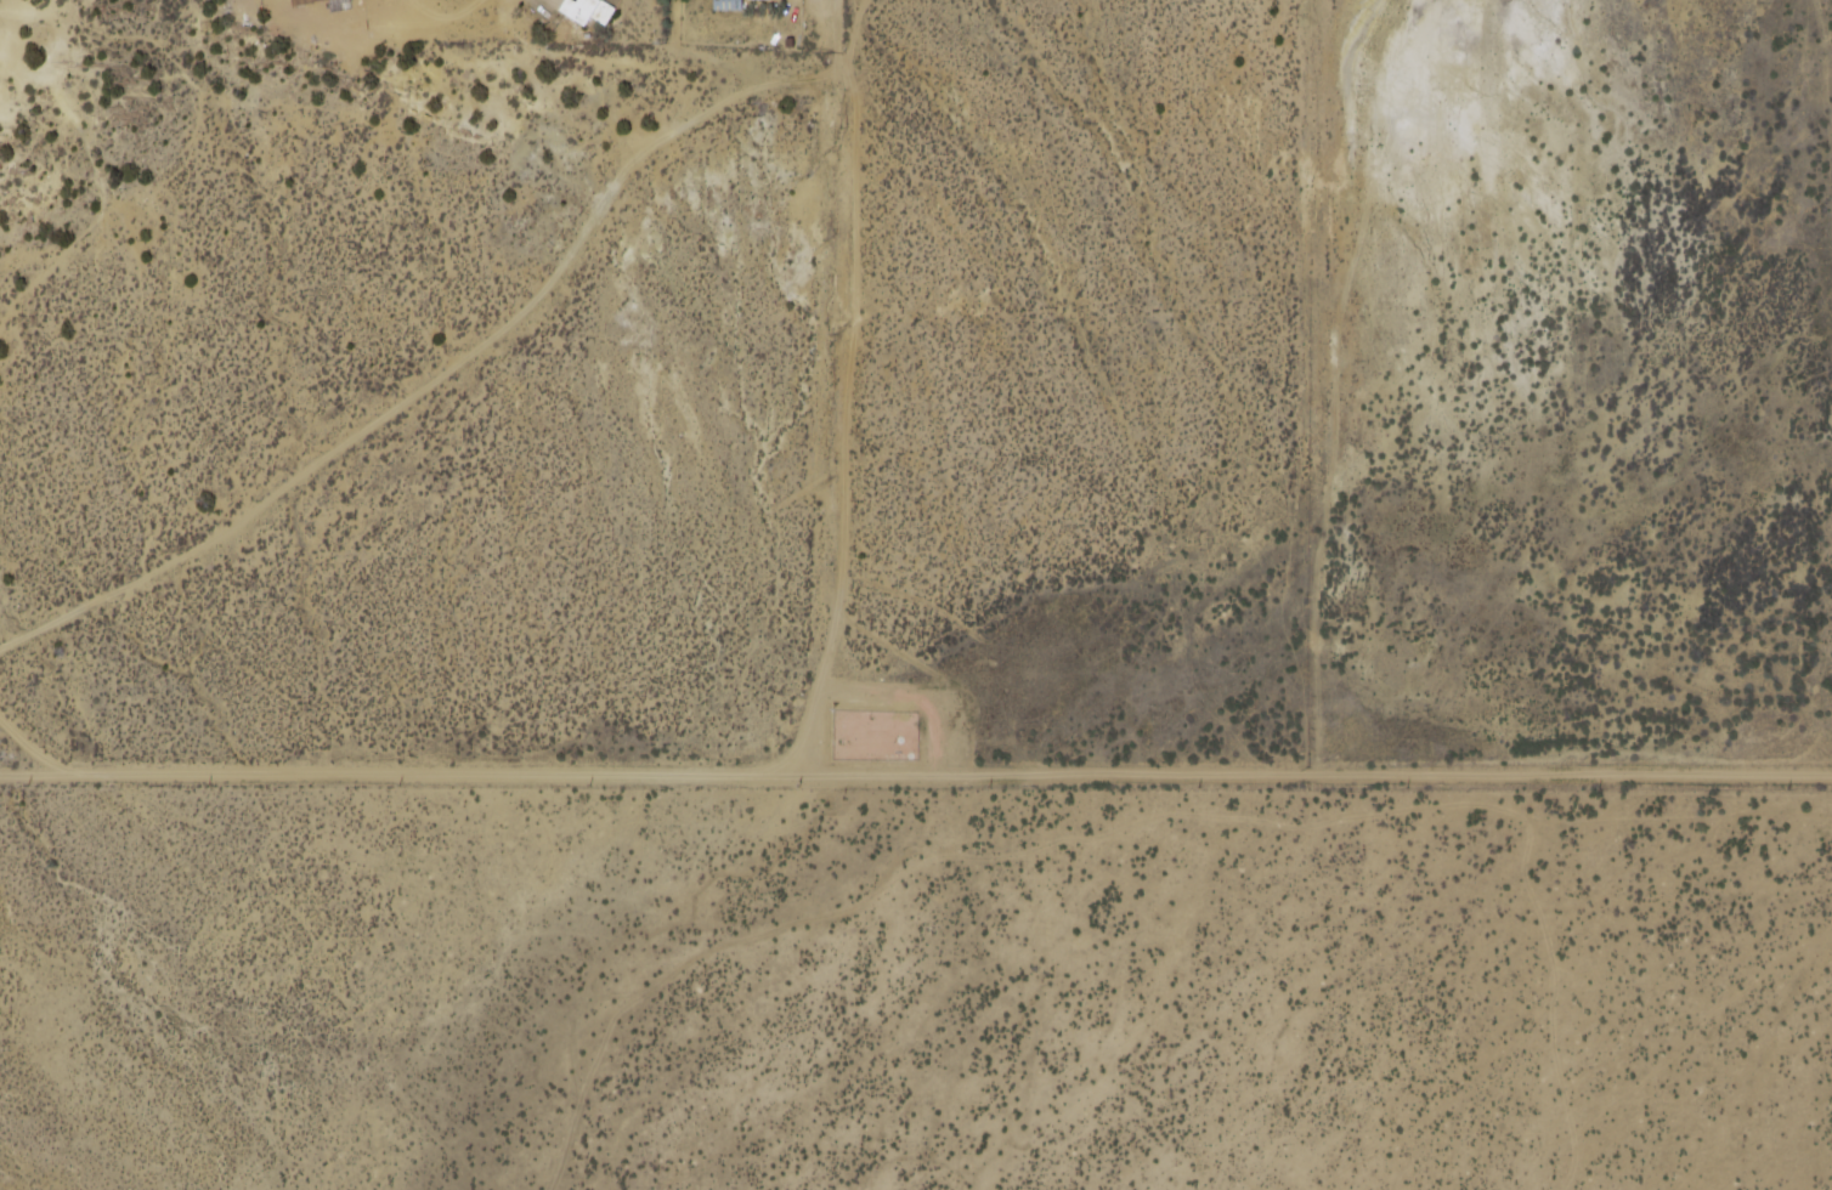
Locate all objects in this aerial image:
building: (298, 0)
building: (728, 4)
building: (588, 10)
road: (847, 38)
road: (696, 62)
road: (451, 387)
road: (858, 427)
road: (915, 772)

